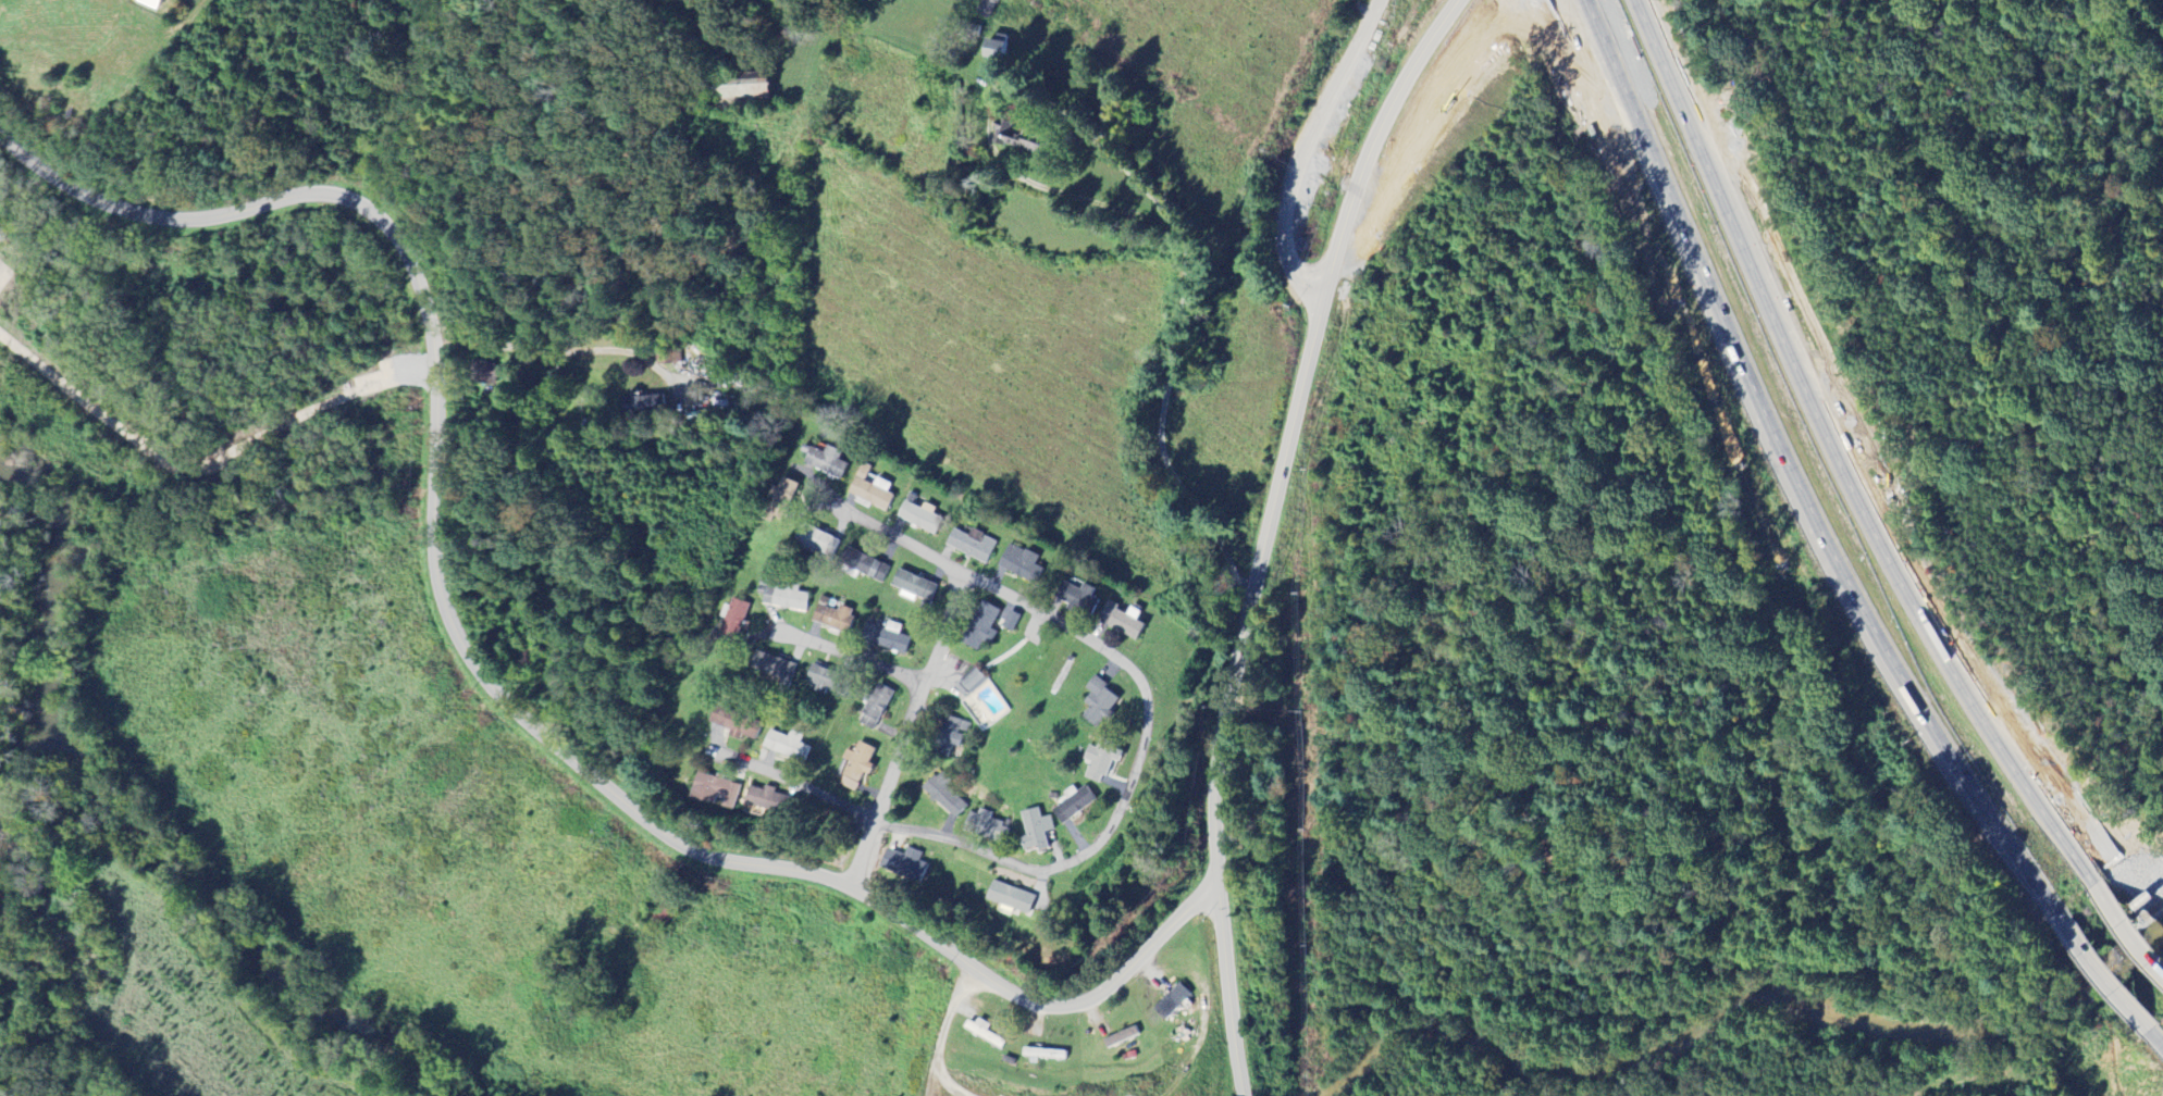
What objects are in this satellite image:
building: (987, 8)
road: (1360, 14)
building: (973, 30)
building: (994, 50)
building: (741, 90)
road: (1356, 95)
building: (1018, 139)
road: (1055, 191)
road: (1181, 309)
road: (549, 351)
building: (482, 375)
building: (641, 406)
road: (1298, 421)
road: (1842, 453)
building: (826, 463)
road: (1794, 470)
building: (869, 489)
building: (780, 495)
building: (917, 519)
building: (814, 543)
building: (969, 547)
building: (1018, 564)
building: (860, 565)
building: (912, 588)
building: (781, 597)
building: (1075, 598)
building: (830, 616)
building: (733, 618)
building: (1120, 620)
building: (979, 628)
building: (886, 638)
road: (851, 657)
building: (772, 669)
road: (484, 677)
building: (819, 678)
building: (969, 684)
building: (1097, 703)
building: (874, 709)
road: (1146, 710)
building: (740, 727)
road: (903, 731)
building: (949, 736)
building: (787, 747)
building: (1098, 763)
building: (855, 767)
road: (786, 782)
building: (715, 792)
building: (944, 797)
building: (762, 798)
building: (1072, 805)
building: (984, 826)
building: (1034, 831)
building: (903, 864)
building: (1010, 898)
road: (2125, 931)
road: (2099, 971)
road: (1228, 993)
building: (1170, 1002)
building: (981, 1034)
road: (2154, 1036)
building: (1117, 1038)

